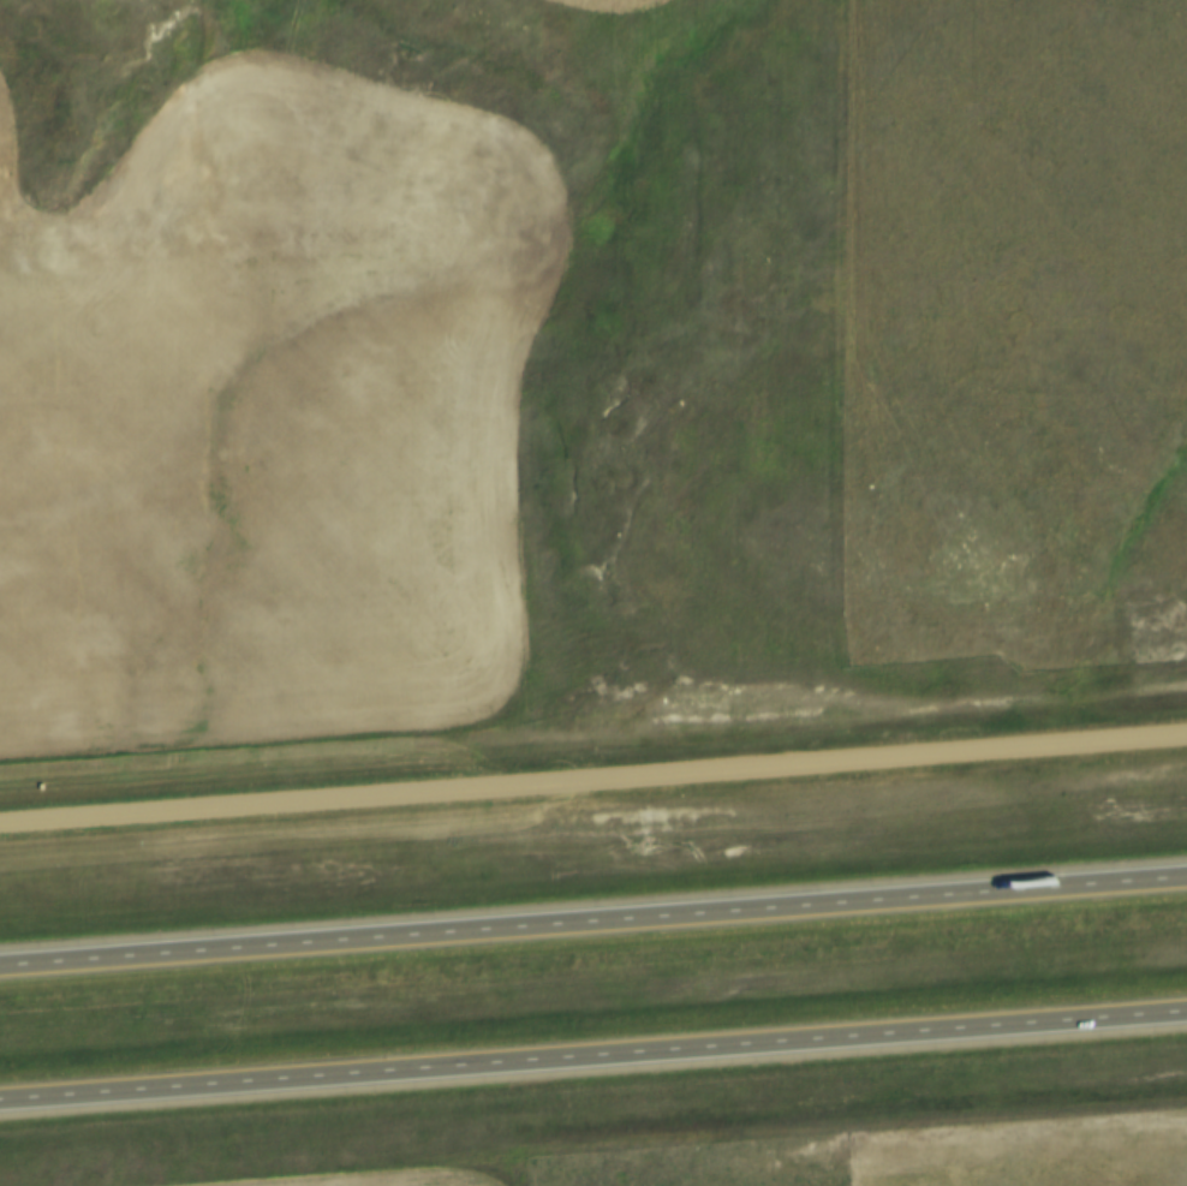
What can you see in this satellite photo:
road: (592, 779)
road: (593, 924)
road: (593, 1059)

